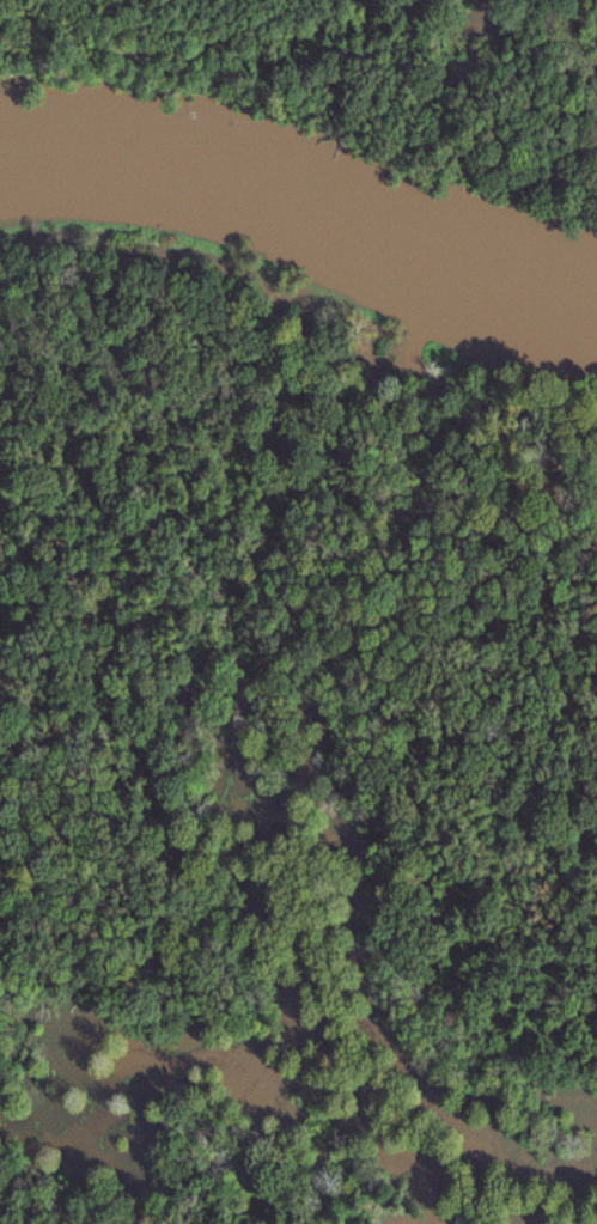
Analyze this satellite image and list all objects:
river: (303, 249)

